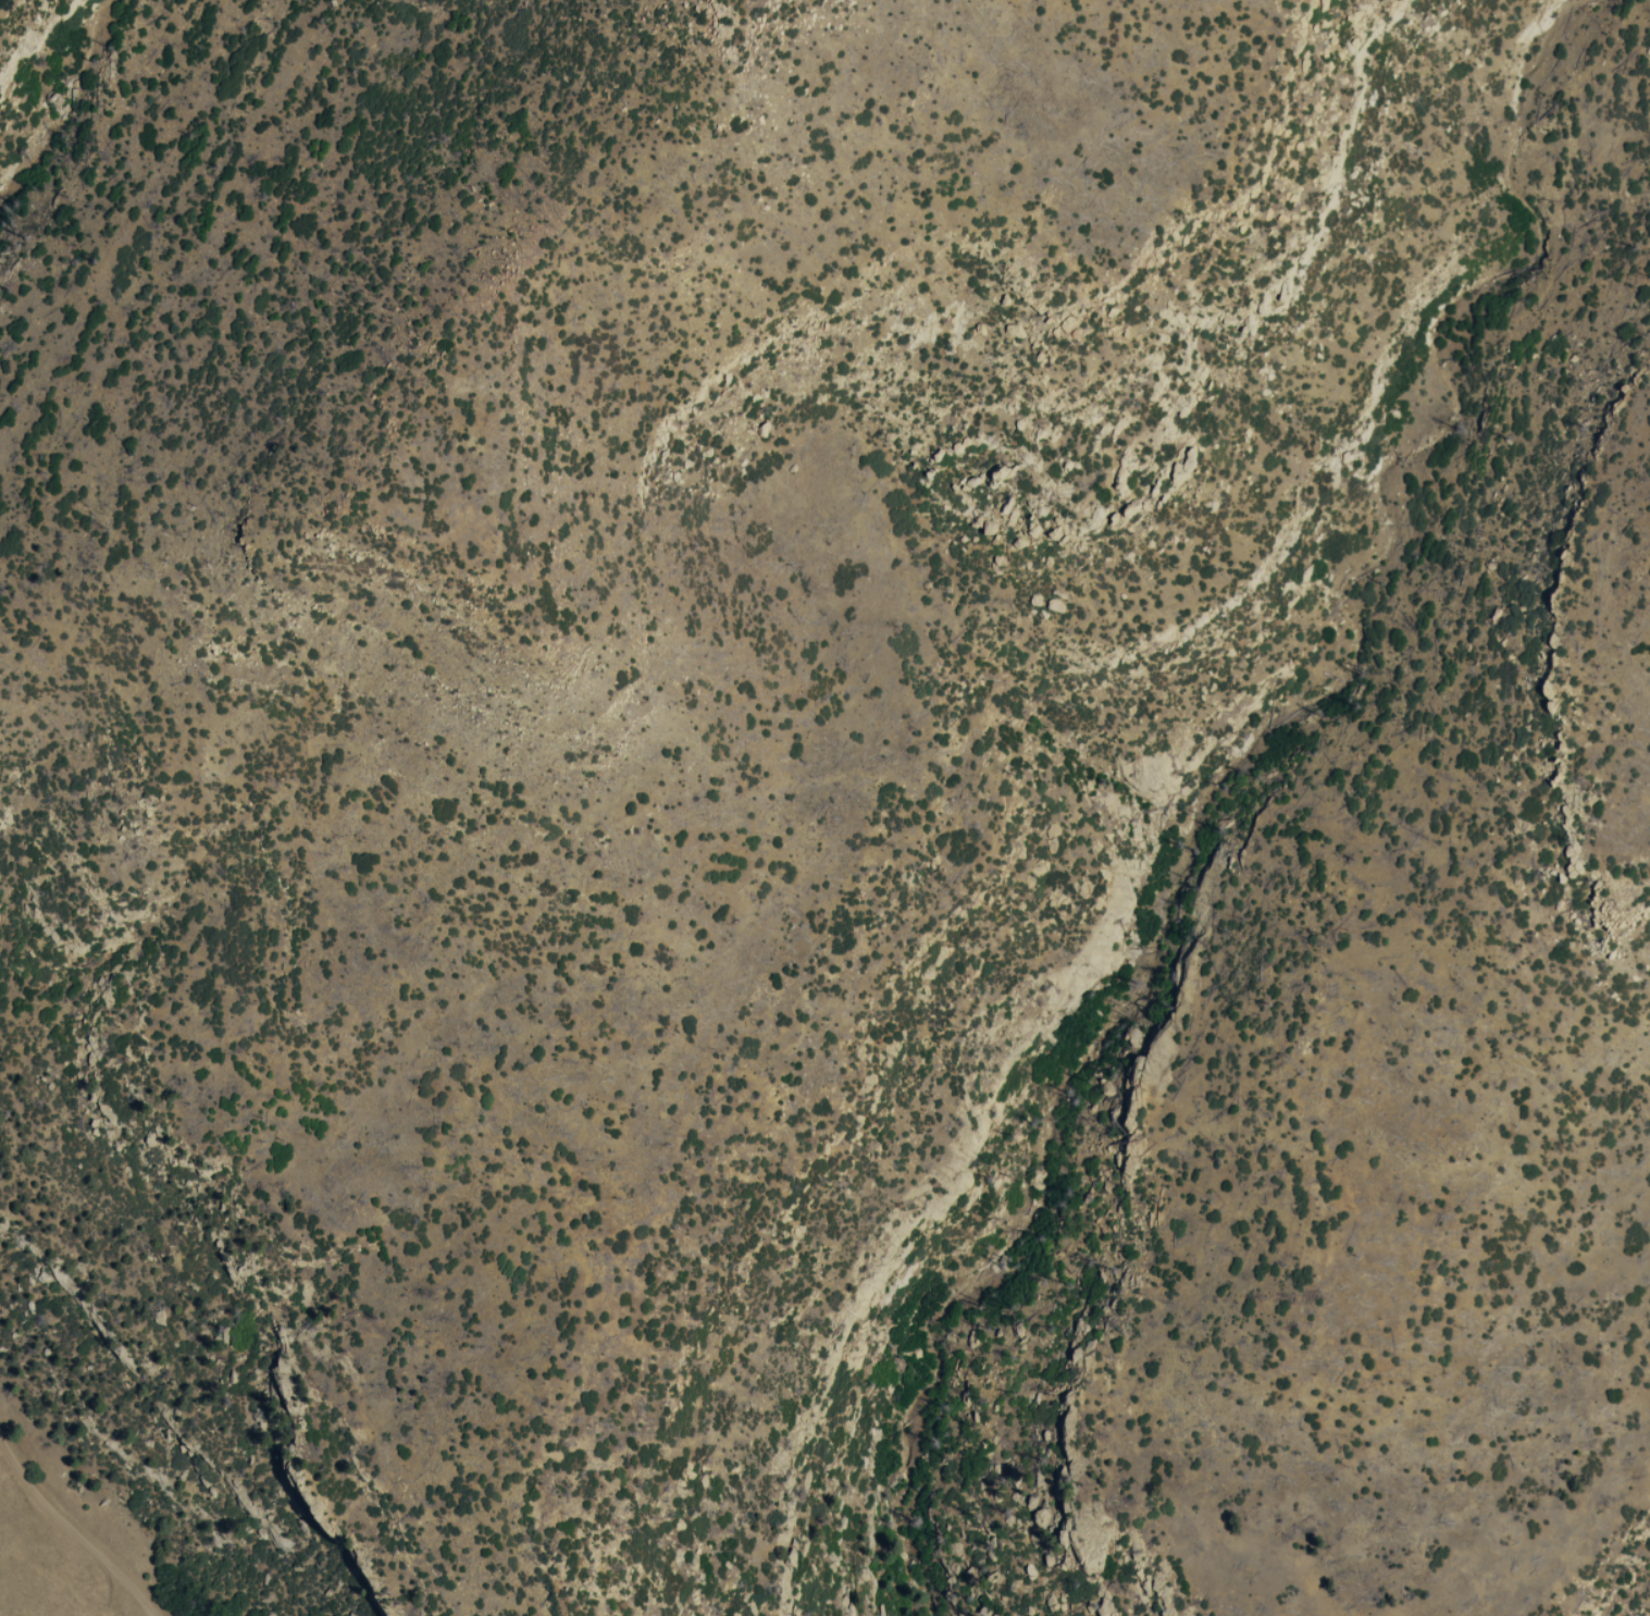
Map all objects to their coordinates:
road: (73, 1530)

